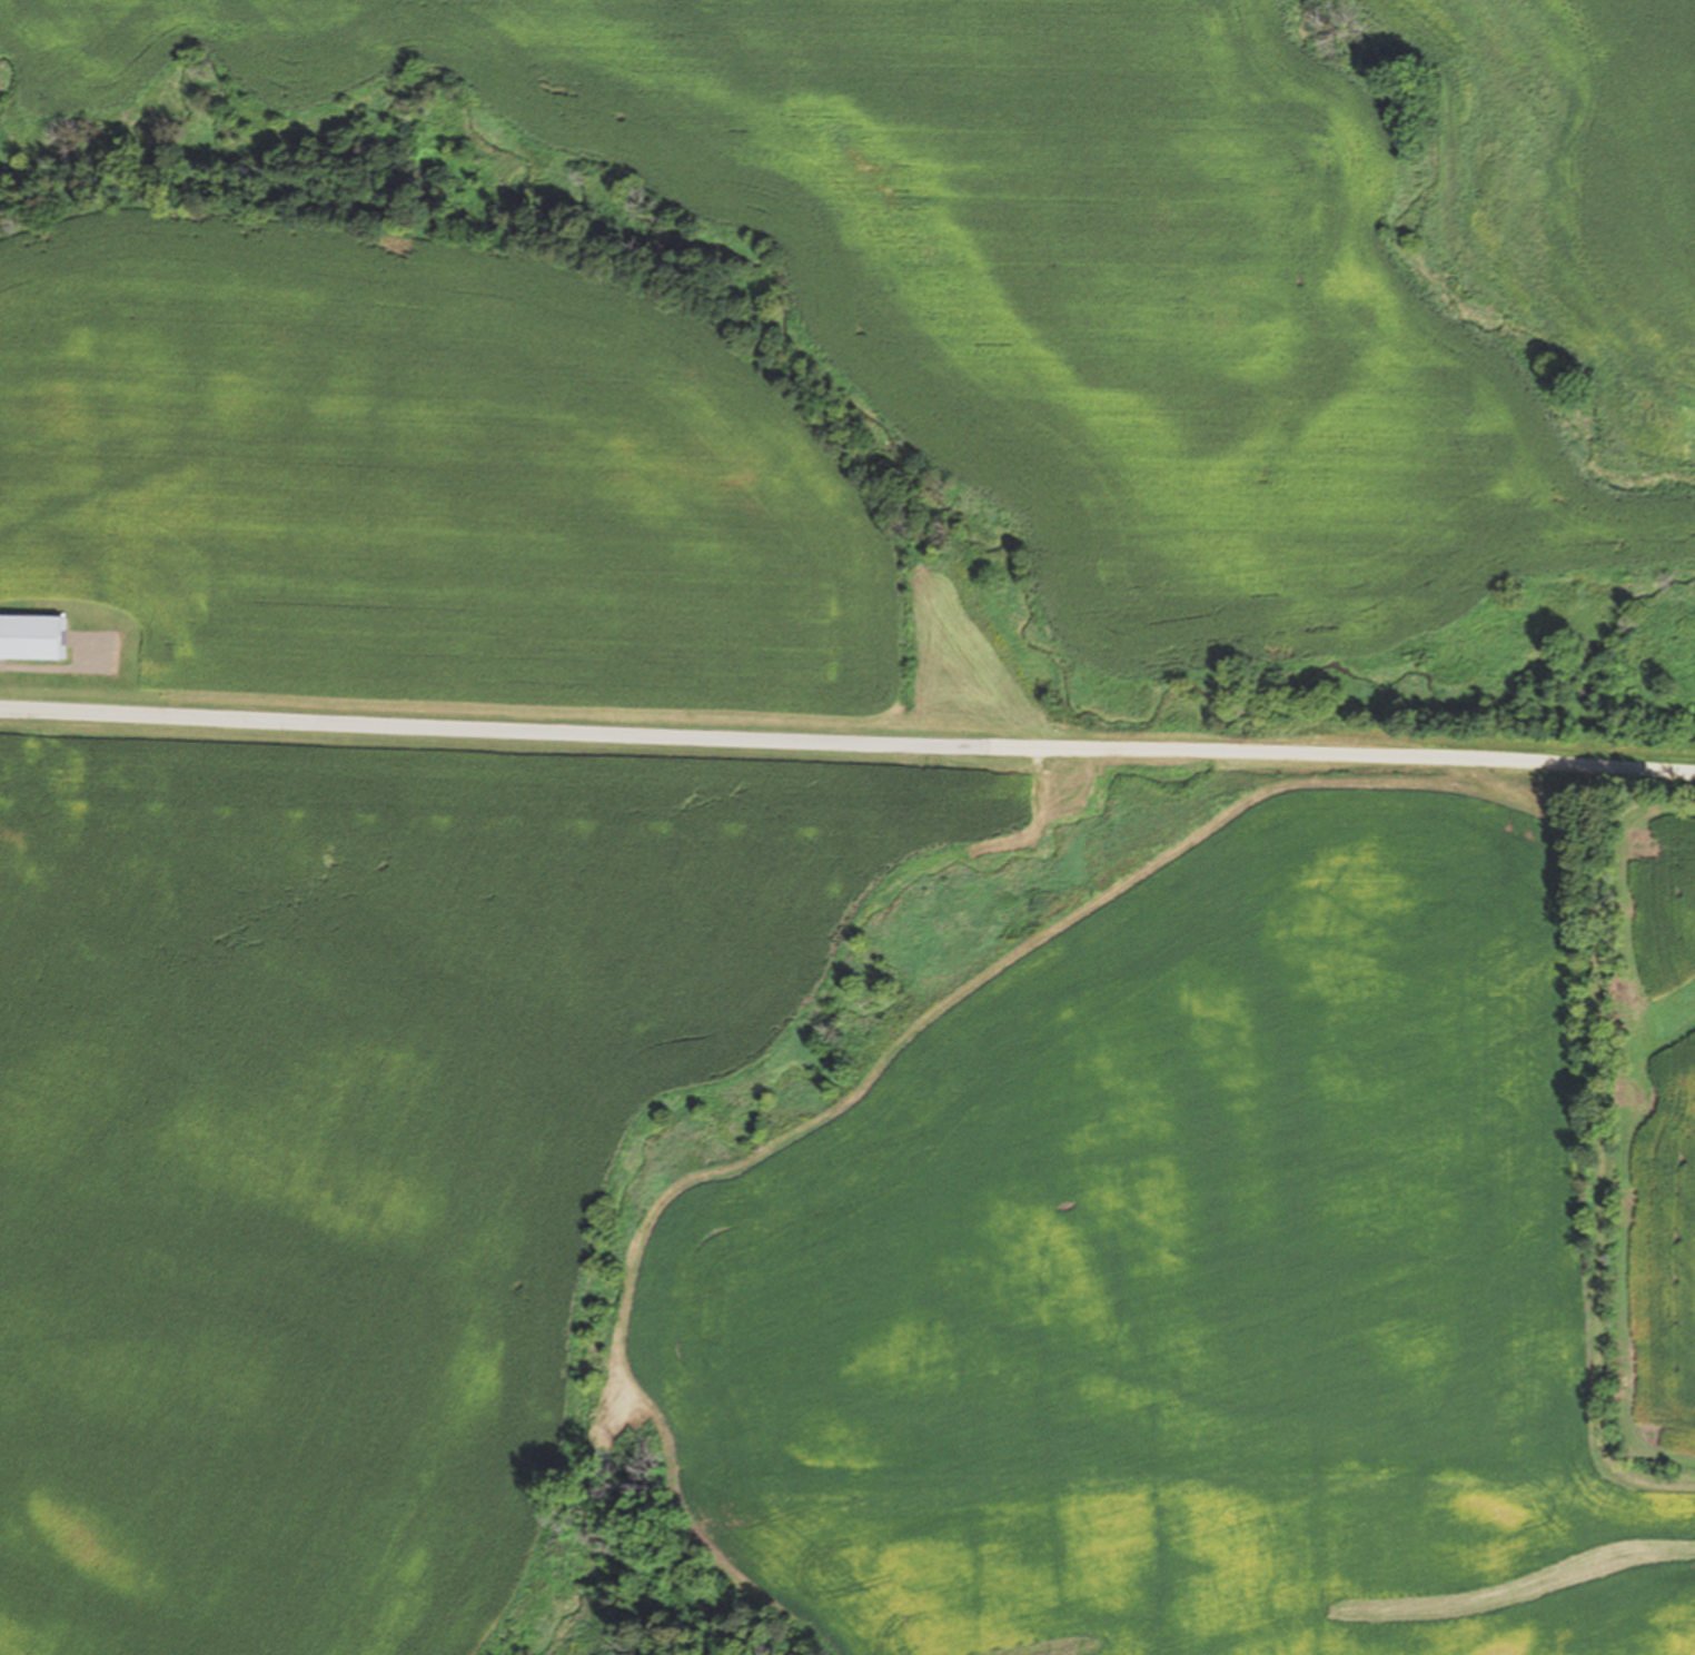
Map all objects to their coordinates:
building: (40, 635)
road: (847, 745)
road: (1614, 1153)

